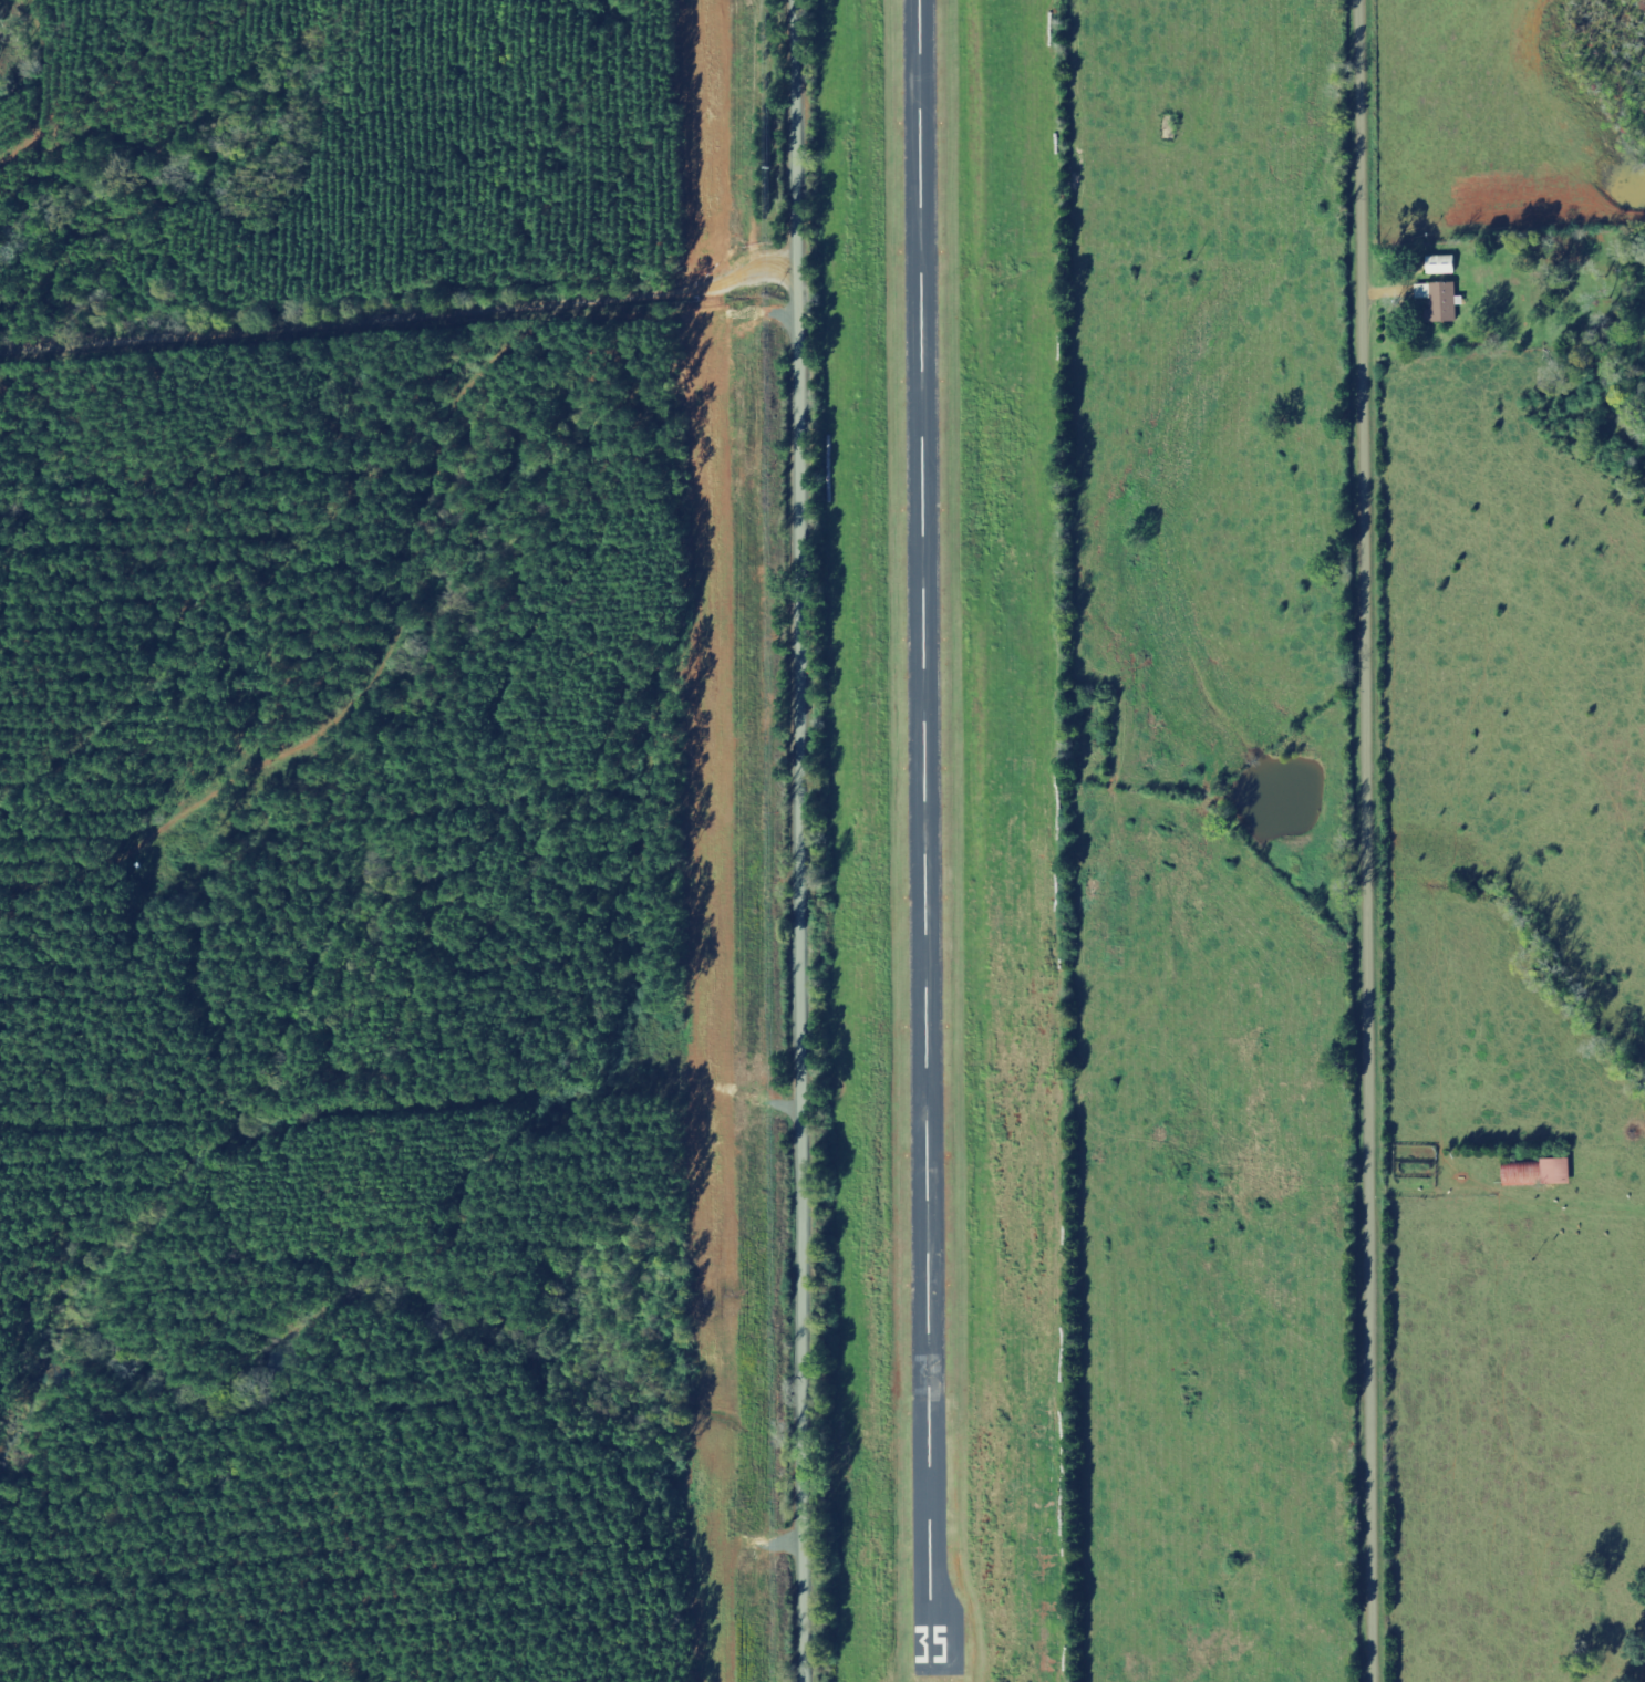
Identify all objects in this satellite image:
building: (1441, 266)
road: (807, 840)
road: (1389, 841)
building: (1539, 1174)

